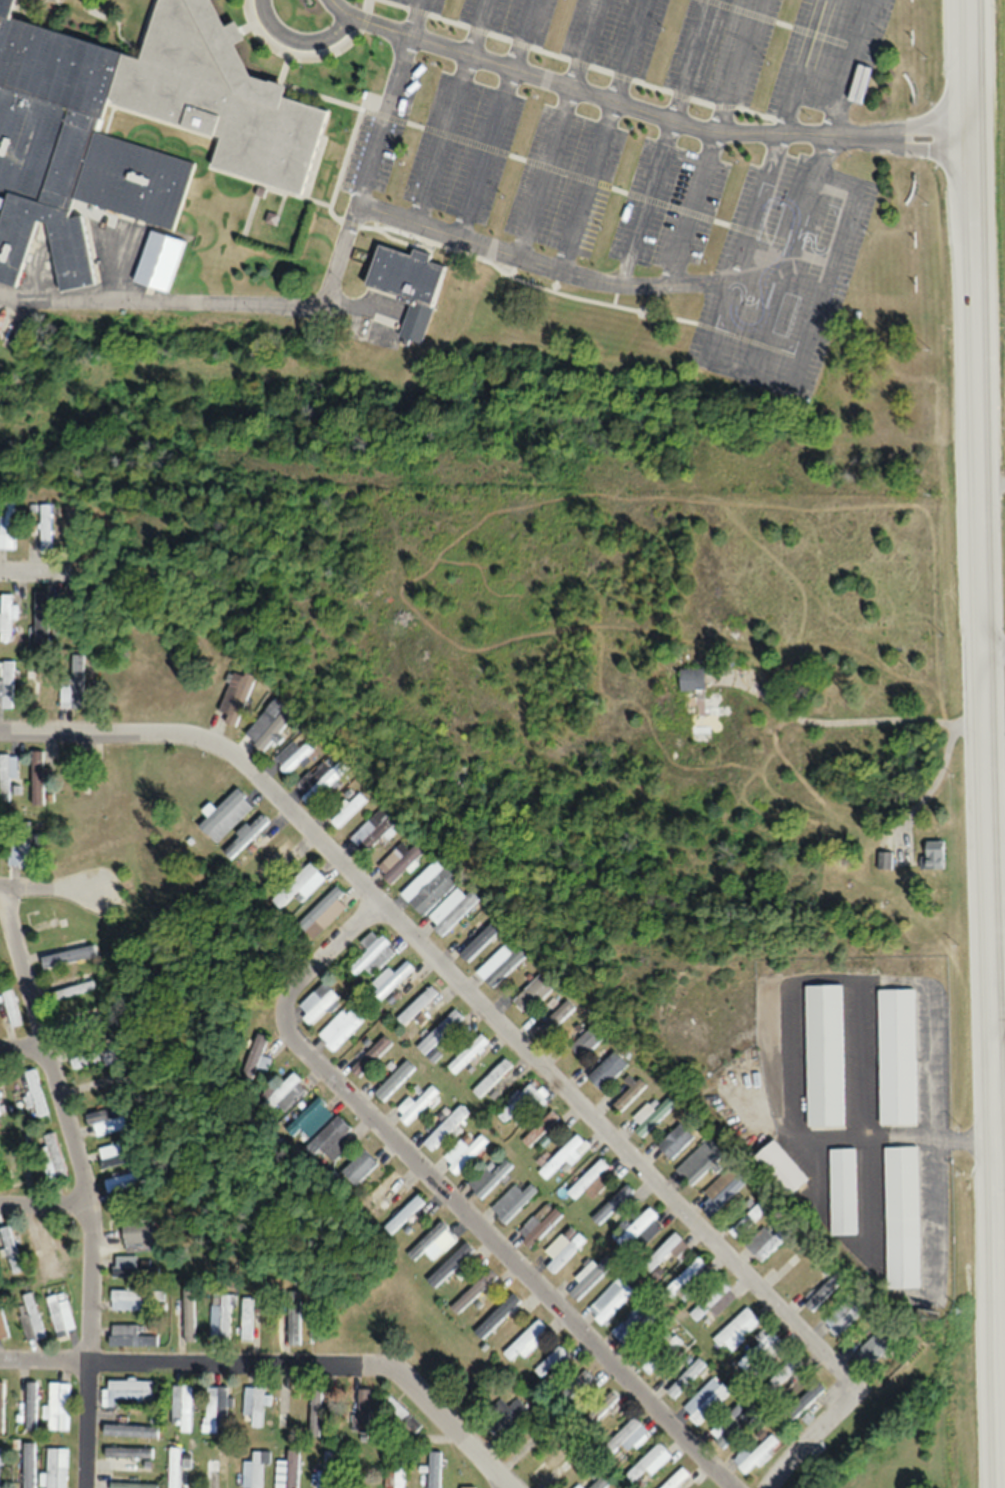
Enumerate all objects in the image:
road: (424, 18)
road: (372, 21)
road: (264, 37)
road: (303, 43)
parking lot: (711, 47)
road: (348, 48)
road: (812, 68)
road: (852, 68)
road: (602, 96)
road: (363, 109)
road: (455, 114)
road: (500, 120)
road: (391, 123)
road: (925, 128)
road: (564, 130)
road: (611, 136)
road: (810, 137)
road: (851, 139)
road: (670, 142)
road: (718, 142)
road: (926, 154)
building: (81, 155)
road: (807, 200)
road: (764, 210)
parking lot: (625, 217)
road: (847, 233)
road: (547, 267)
building: (406, 274)
road: (764, 276)
road: (545, 290)
road: (211, 305)
road: (724, 319)
road: (768, 320)
road: (813, 334)
road: (747, 374)
building: (7, 528)
building: (44, 530)
road: (33, 568)
building: (5, 619)
building: (41, 620)
road: (997, 648)
building: (74, 683)
building: (6, 686)
building: (44, 691)
building: (235, 697)
building: (703, 702)
road: (854, 721)
building: (269, 725)
road: (991, 740)
building: (292, 757)
building: (7, 773)
building: (69, 776)
building: (38, 778)
building: (319, 782)
road: (932, 785)
building: (227, 815)
building: (373, 831)
building: (247, 835)
building: (21, 849)
building: (934, 855)
building: (275, 858)
building: (886, 861)
building: (399, 863)
road: (45, 883)
building: (301, 886)
building: (433, 891)
building: (452, 911)
building: (324, 914)
building: (373, 955)
building: (65, 957)
building: (502, 963)
building: (390, 980)
road: (456, 982)
building: (71, 987)
building: (533, 995)
building: (319, 1004)
building: (424, 1005)
building: (10, 1009)
building: (556, 1018)
building: (344, 1028)
building: (440, 1032)
road: (21, 1039)
building: (585, 1044)
building: (468, 1054)
building: (823, 1056)
building: (373, 1057)
building: (896, 1058)
building: (92, 1059)
building: (258, 1060)
road: (50, 1066)
building: (606, 1072)
building: (492, 1077)
building: (395, 1081)
building: (34, 1094)
building: (287, 1094)
building: (626, 1095)
building: (517, 1104)
building: (418, 1105)
building: (0, 1113)
building: (651, 1116)
building: (310, 1118)
building: (108, 1121)
building: (445, 1128)
building: (540, 1129)
building: (329, 1141)
building: (674, 1142)
quarry: (1002, 1150)
building: (468, 1155)
building: (114, 1157)
building: (561, 1158)
building: (698, 1163)
building: (358, 1169)
building: (781, 1169)
building: (488, 1178)
building: (591, 1182)
building: (119, 1183)
building: (380, 1190)
building: (722, 1191)
building: (842, 1192)
road: (43, 1196)
road: (449, 1196)
building: (512, 1203)
building: (616, 1205)
building: (403, 1215)
building: (902, 1217)
building: (746, 1221)
building: (639, 1231)
building: (137, 1234)
building: (433, 1242)
building: (765, 1242)
building: (563, 1248)
building: (10, 1250)
building: (46, 1251)
building: (666, 1252)
building: (453, 1266)
building: (132, 1272)
building: (590, 1277)
building: (824, 1291)
building: (473, 1292)
building: (124, 1300)
building: (610, 1302)
building: (719, 1302)
building: (847, 1315)
building: (33, 1317)
building: (188, 1317)
building: (500, 1317)
building: (61, 1318)
building: (218, 1318)
building: (294, 1318)
building: (245, 1319)
building: (3, 1329)
building: (737, 1330)
building: (129, 1336)
building: (528, 1341)
building: (877, 1347)
building: (550, 1362)
building: (651, 1363)
road: (280, 1367)
road: (88, 1370)
building: (789, 1378)
building: (687, 1379)
building: (577, 1385)
building: (128, 1392)
building: (706, 1401)
building: (805, 1402)
building: (254, 1403)
building: (31, 1405)
building: (58, 1406)
building: (183, 1408)
building: (216, 1408)
building: (1, 1409)
building: (363, 1411)
building: (400, 1414)
building: (315, 1415)
building: (514, 1416)
building: (734, 1427)
building: (129, 1431)
road: (807, 1433)
building: (631, 1436)
building: (129, 1453)
building: (756, 1455)
building: (650, 1462)
building: (551, 1464)
building: (29, 1465)
building: (0, 1468)
building: (57, 1468)
building: (174, 1468)
building: (401, 1469)
building: (254, 1470)
building: (327, 1470)
building: (434, 1470)
building: (217, 1471)
building: (288, 1471)
building: (677, 1479)
building: (601, 1483)
building: (137, 1485)

